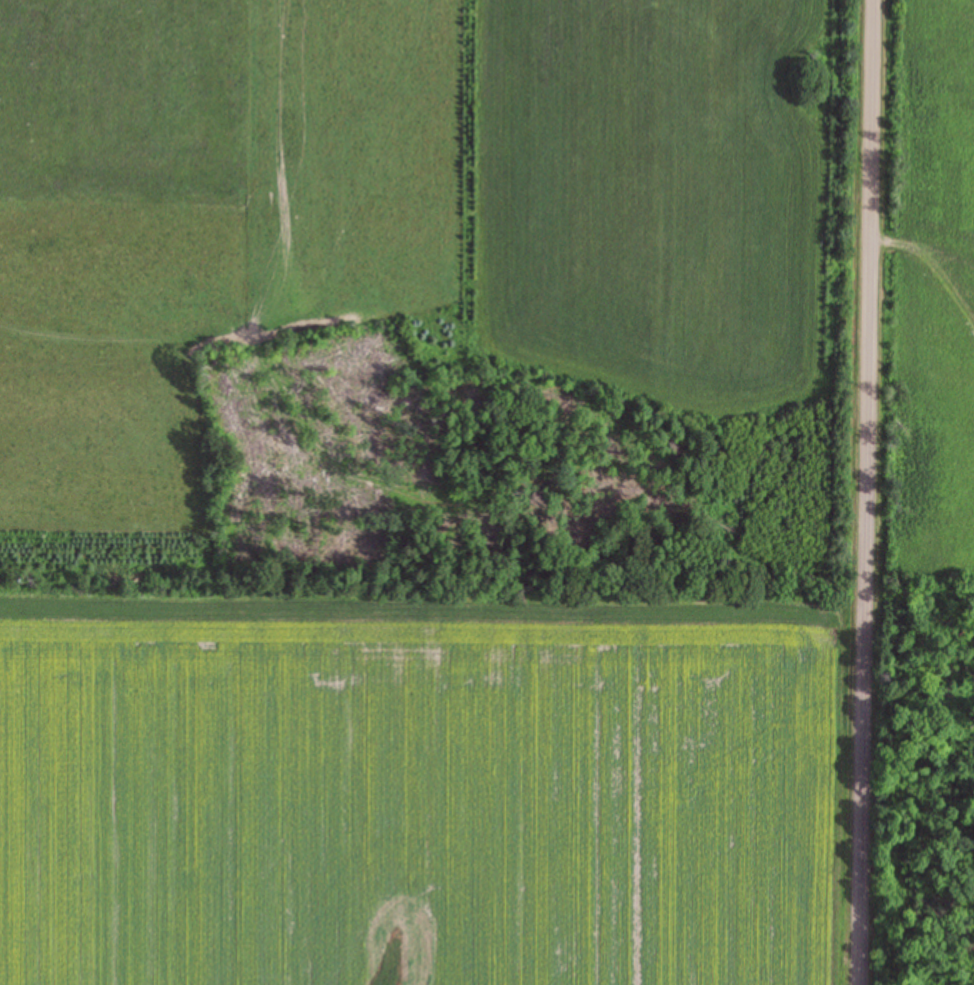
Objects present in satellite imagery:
road: (857, 492)

